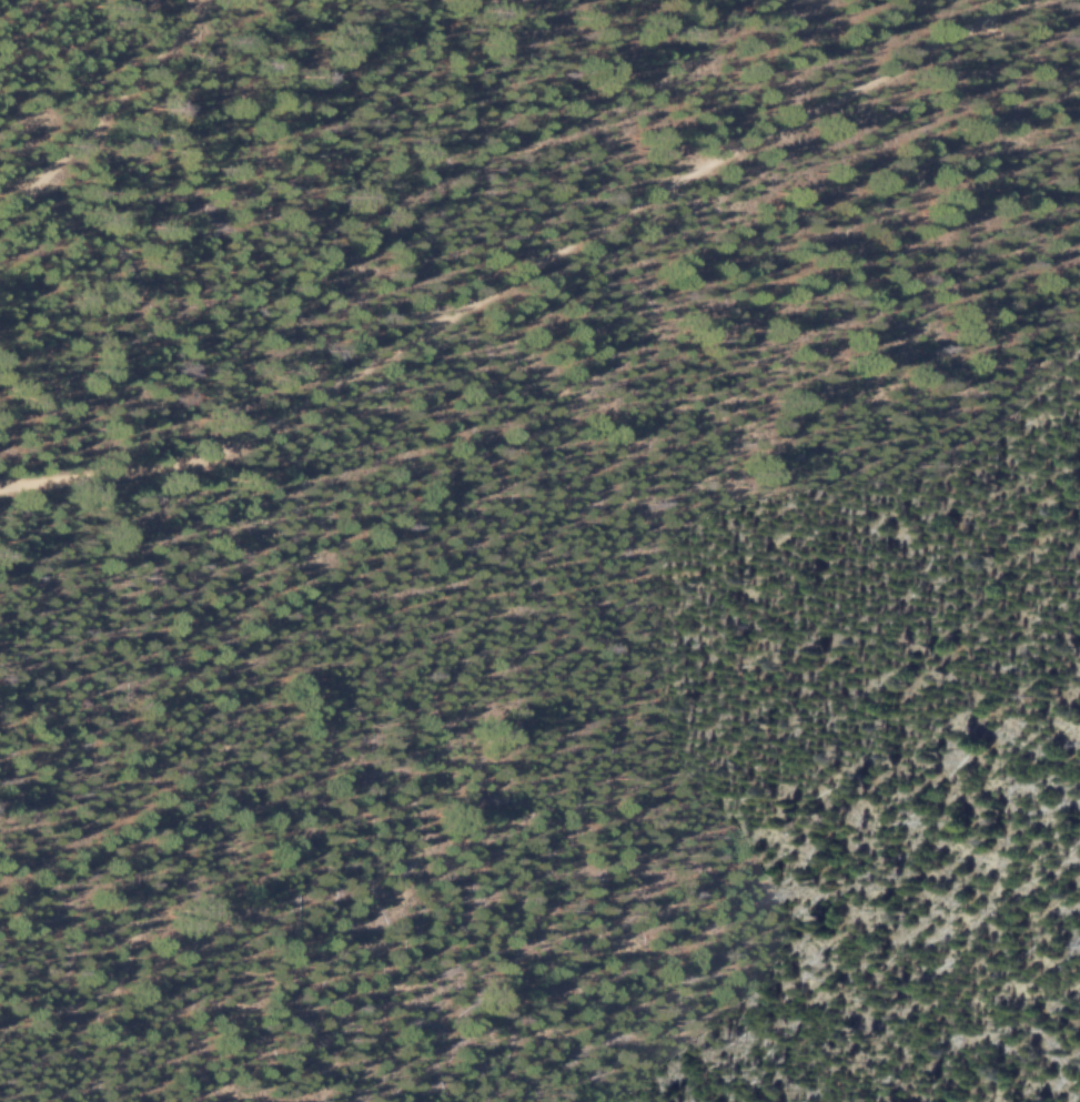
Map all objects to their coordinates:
road: (1034, 55)
road: (104, 113)
road: (522, 272)
road: (468, 598)

